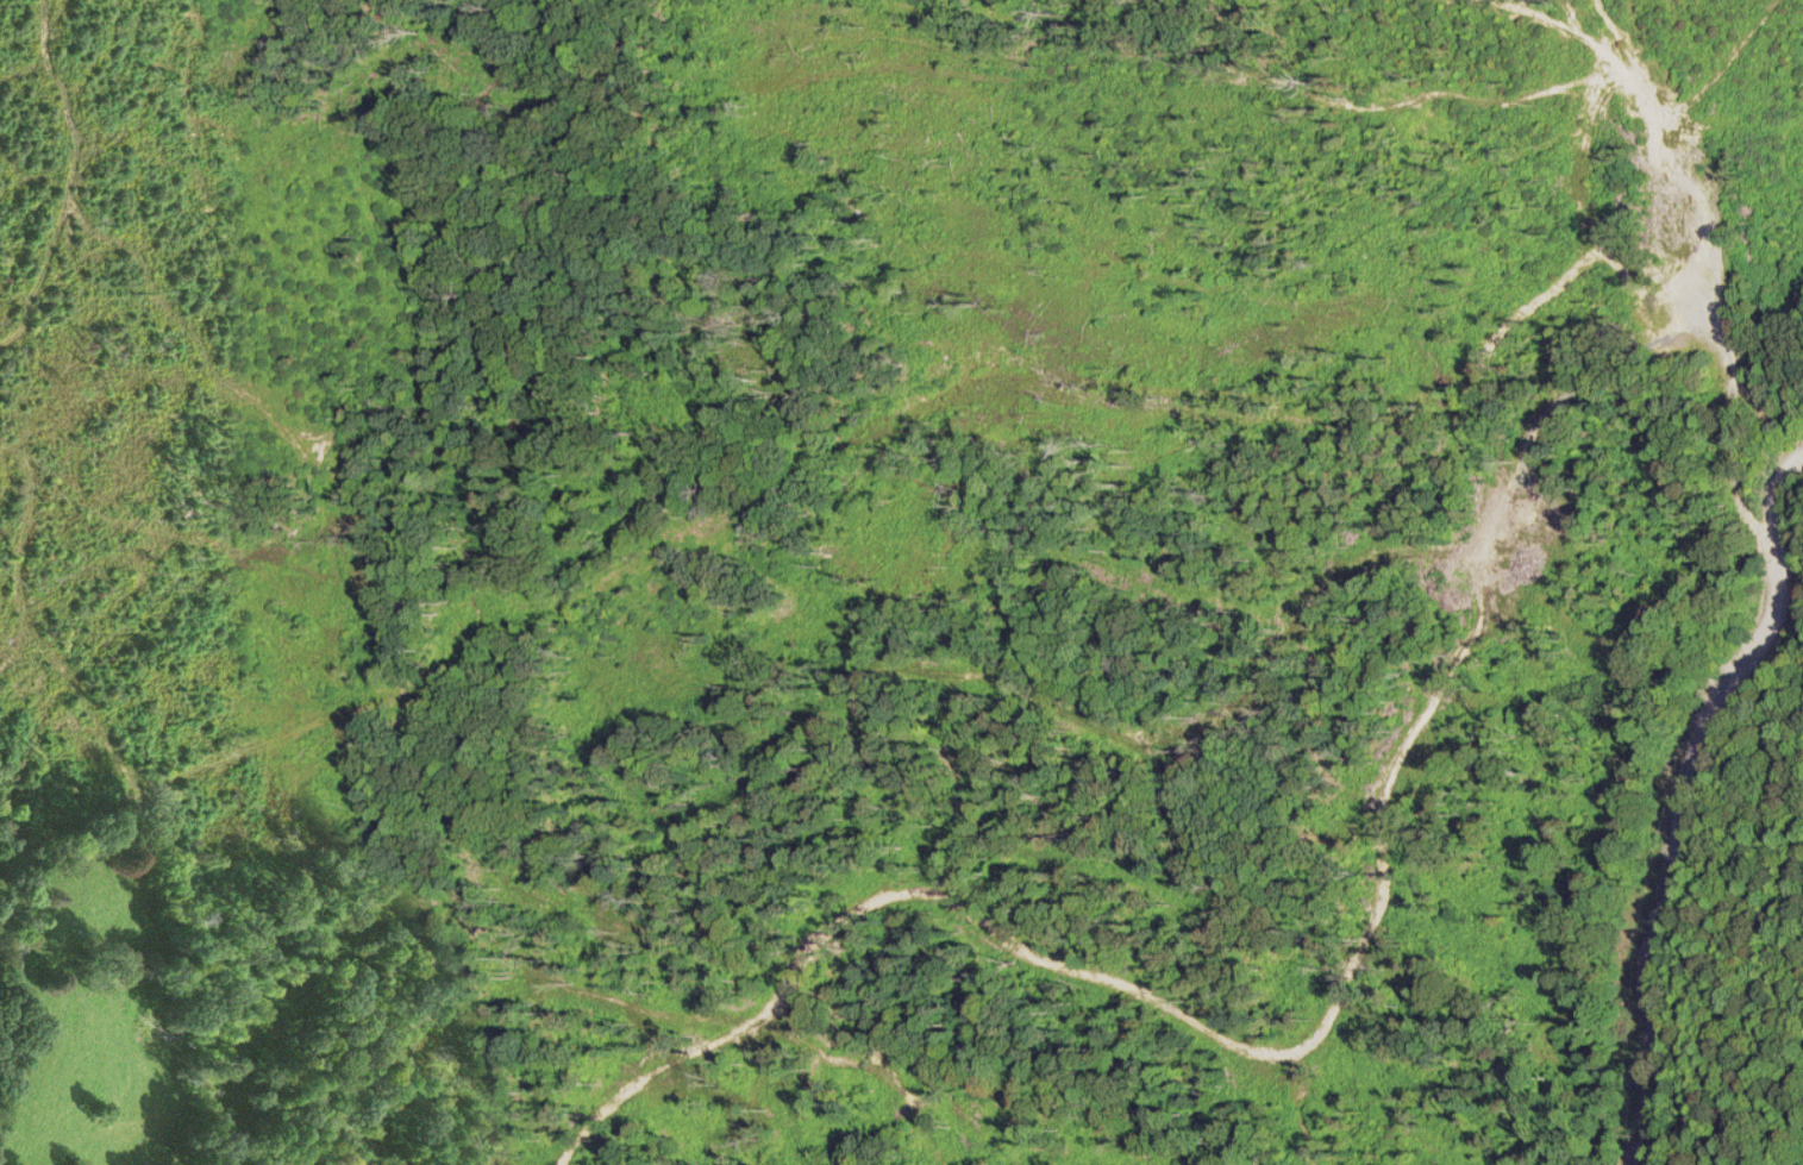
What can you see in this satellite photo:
road: (1672, 788)

